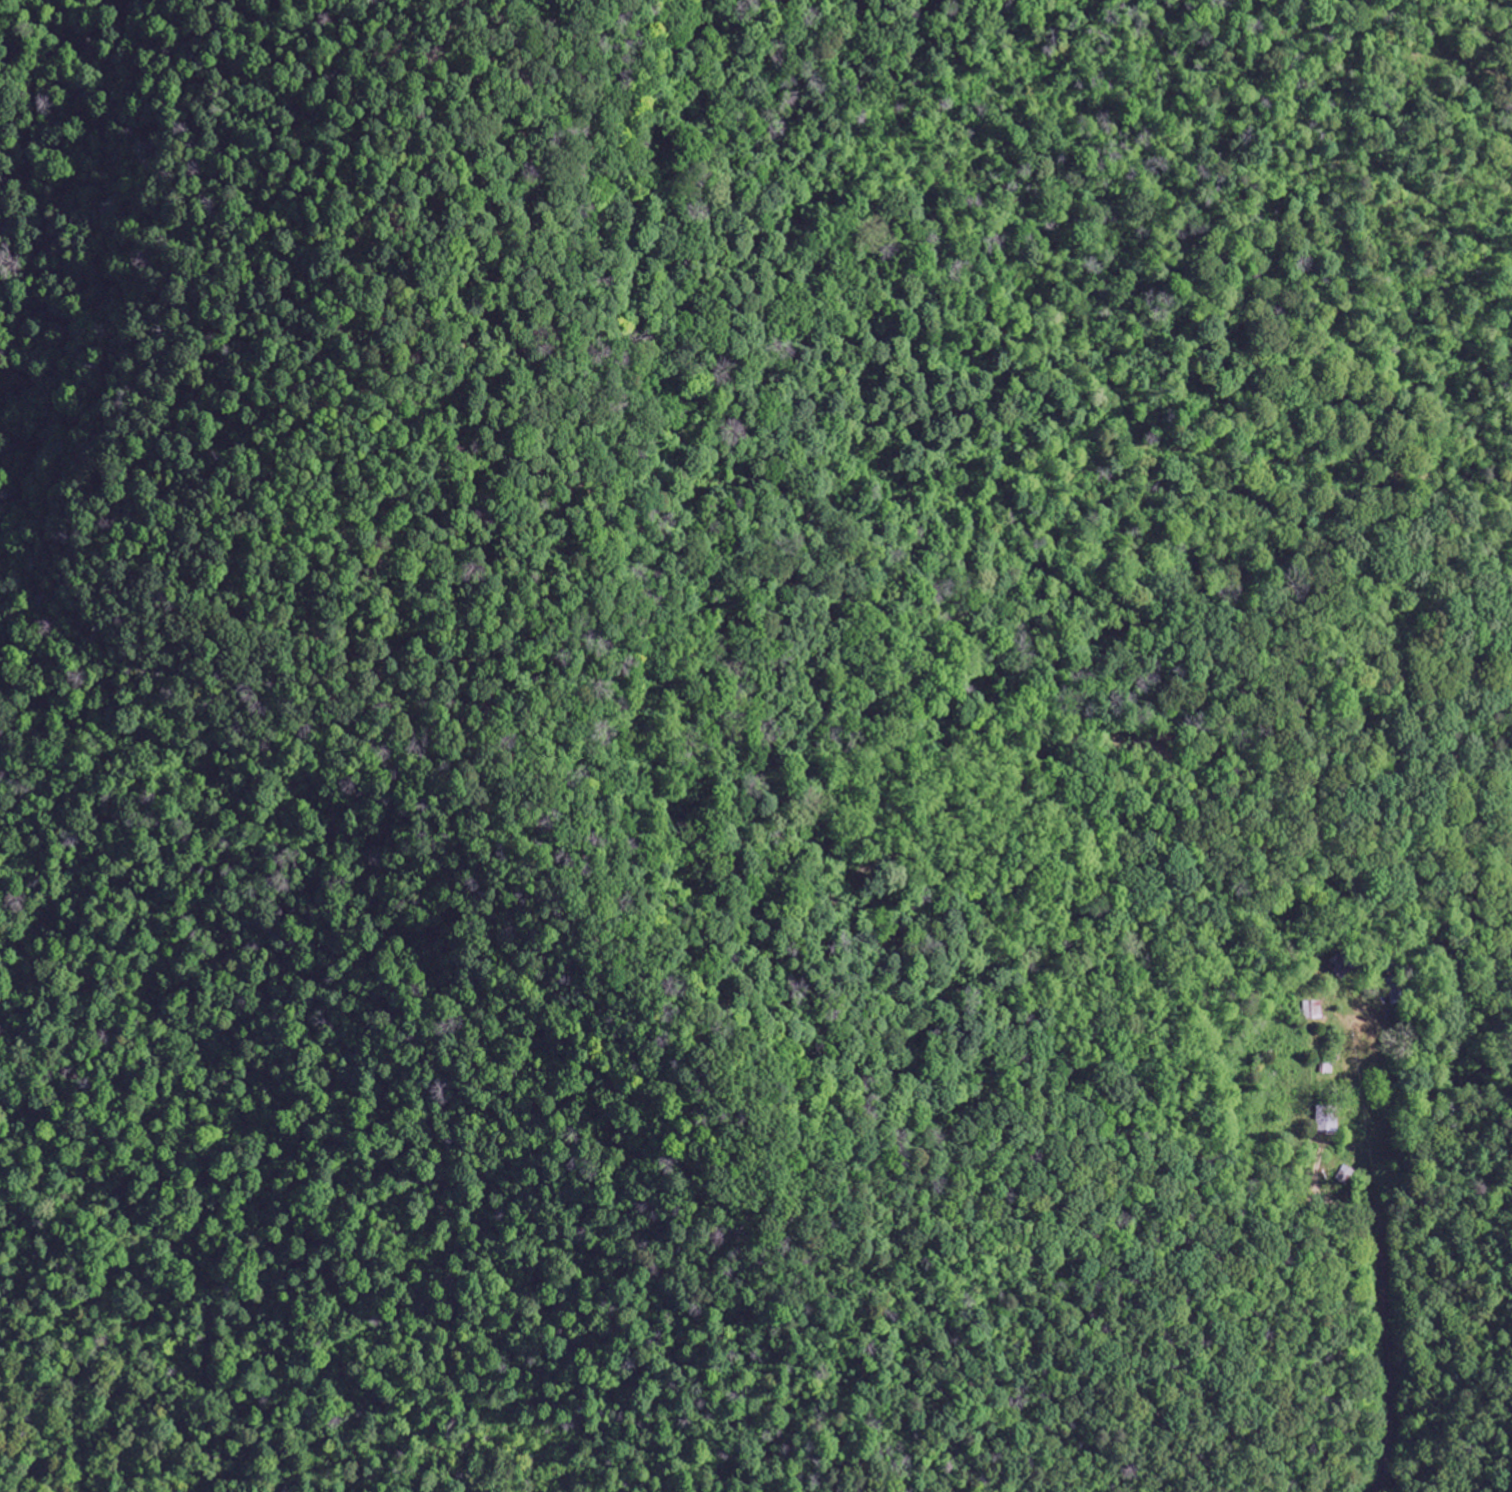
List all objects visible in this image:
building: (1313, 1011)
building: (1326, 1120)
building: (1345, 1176)
road: (1391, 1345)

